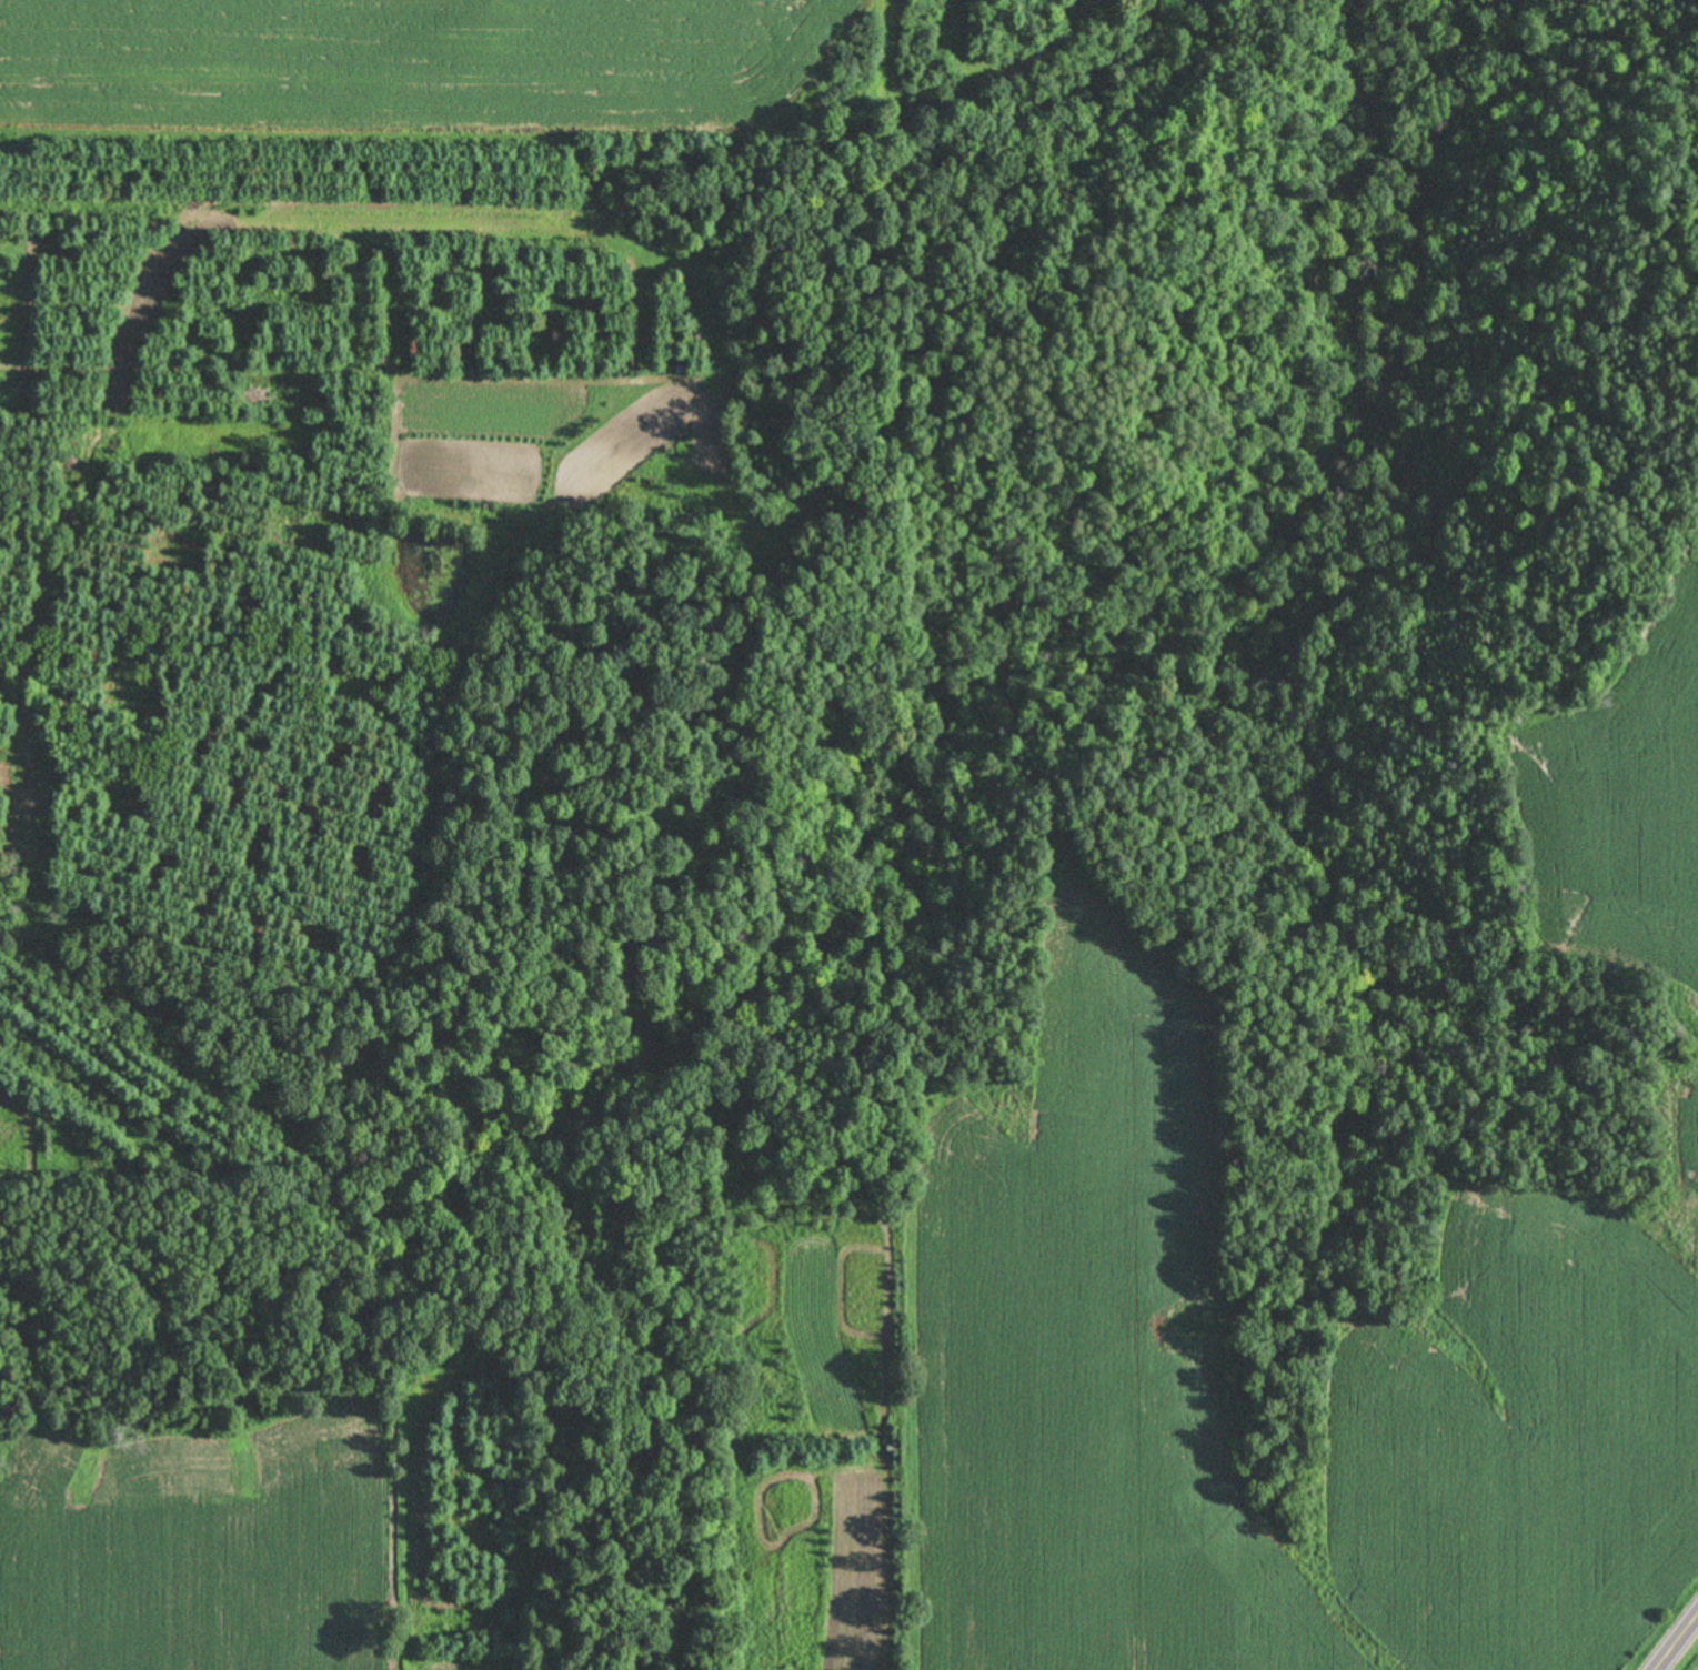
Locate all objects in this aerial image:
road: (1674, 1632)

